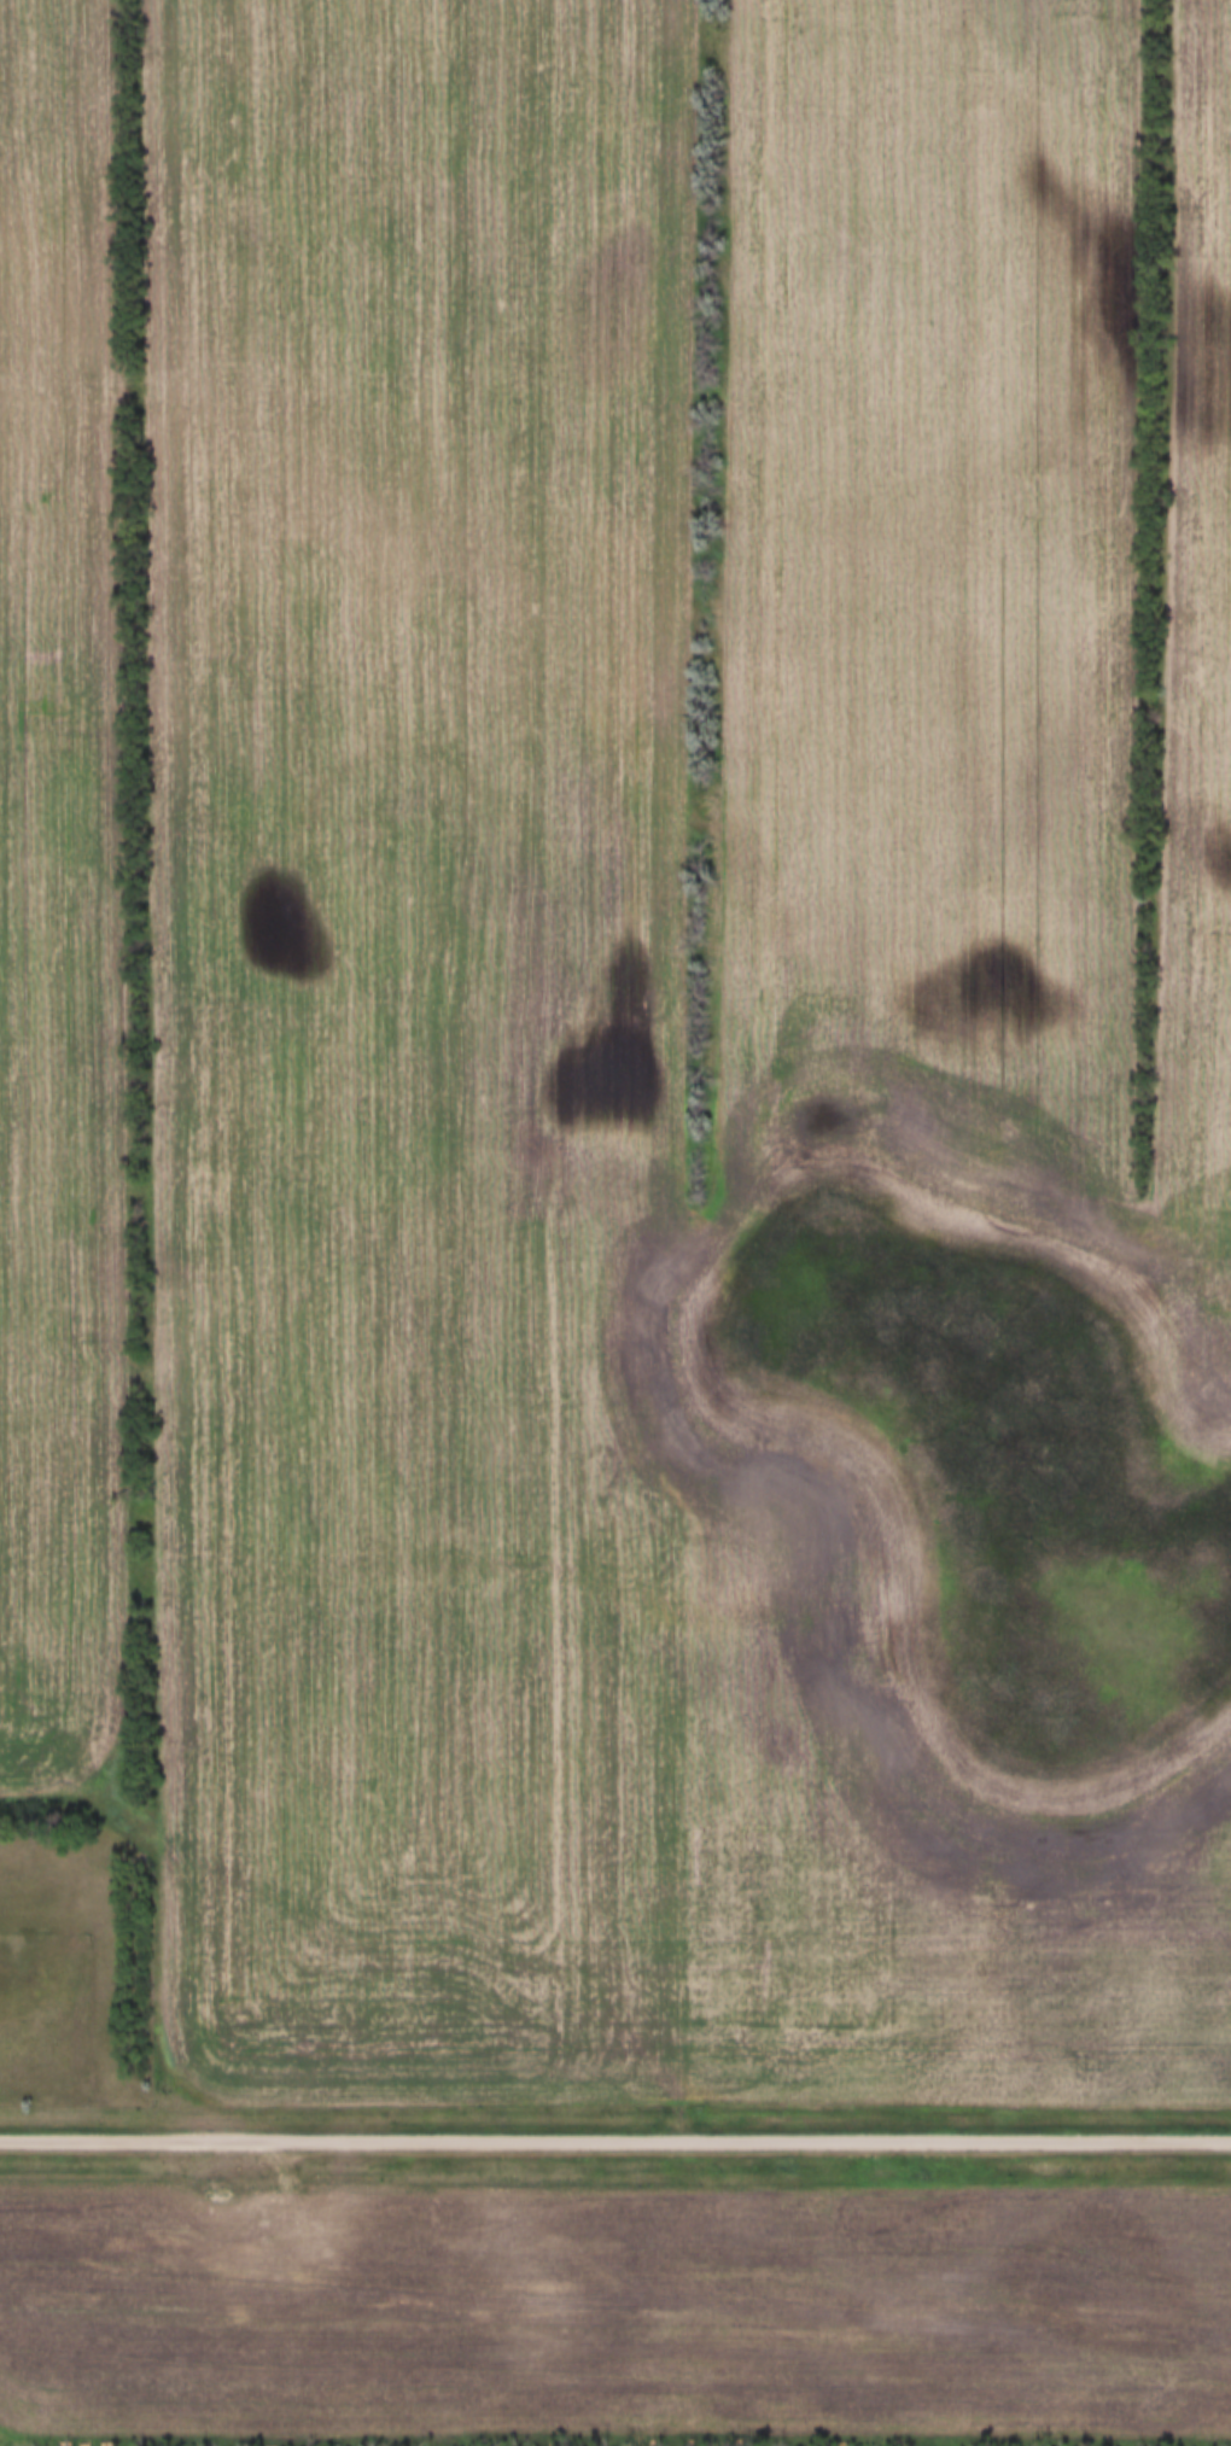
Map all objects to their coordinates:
road: (614, 2138)

